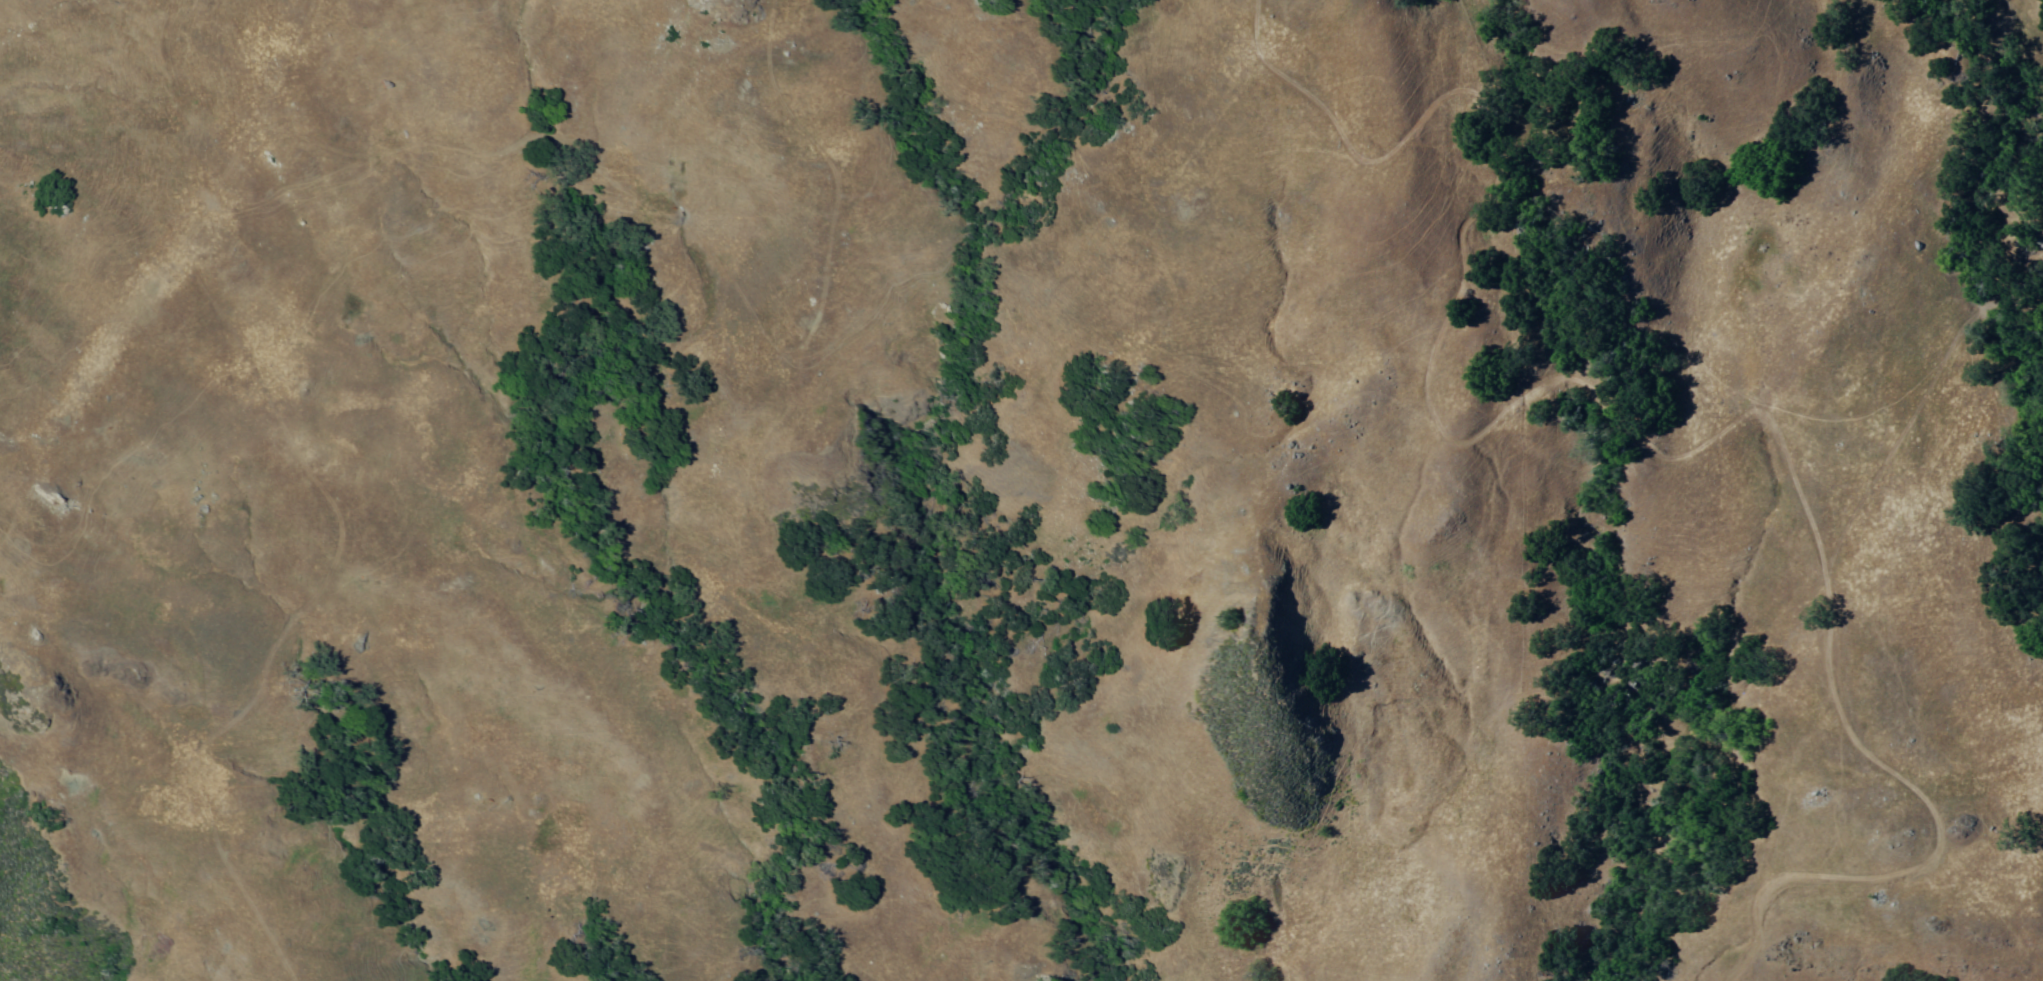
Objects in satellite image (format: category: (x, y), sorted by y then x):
road: (281, 132)
road: (1625, 419)

